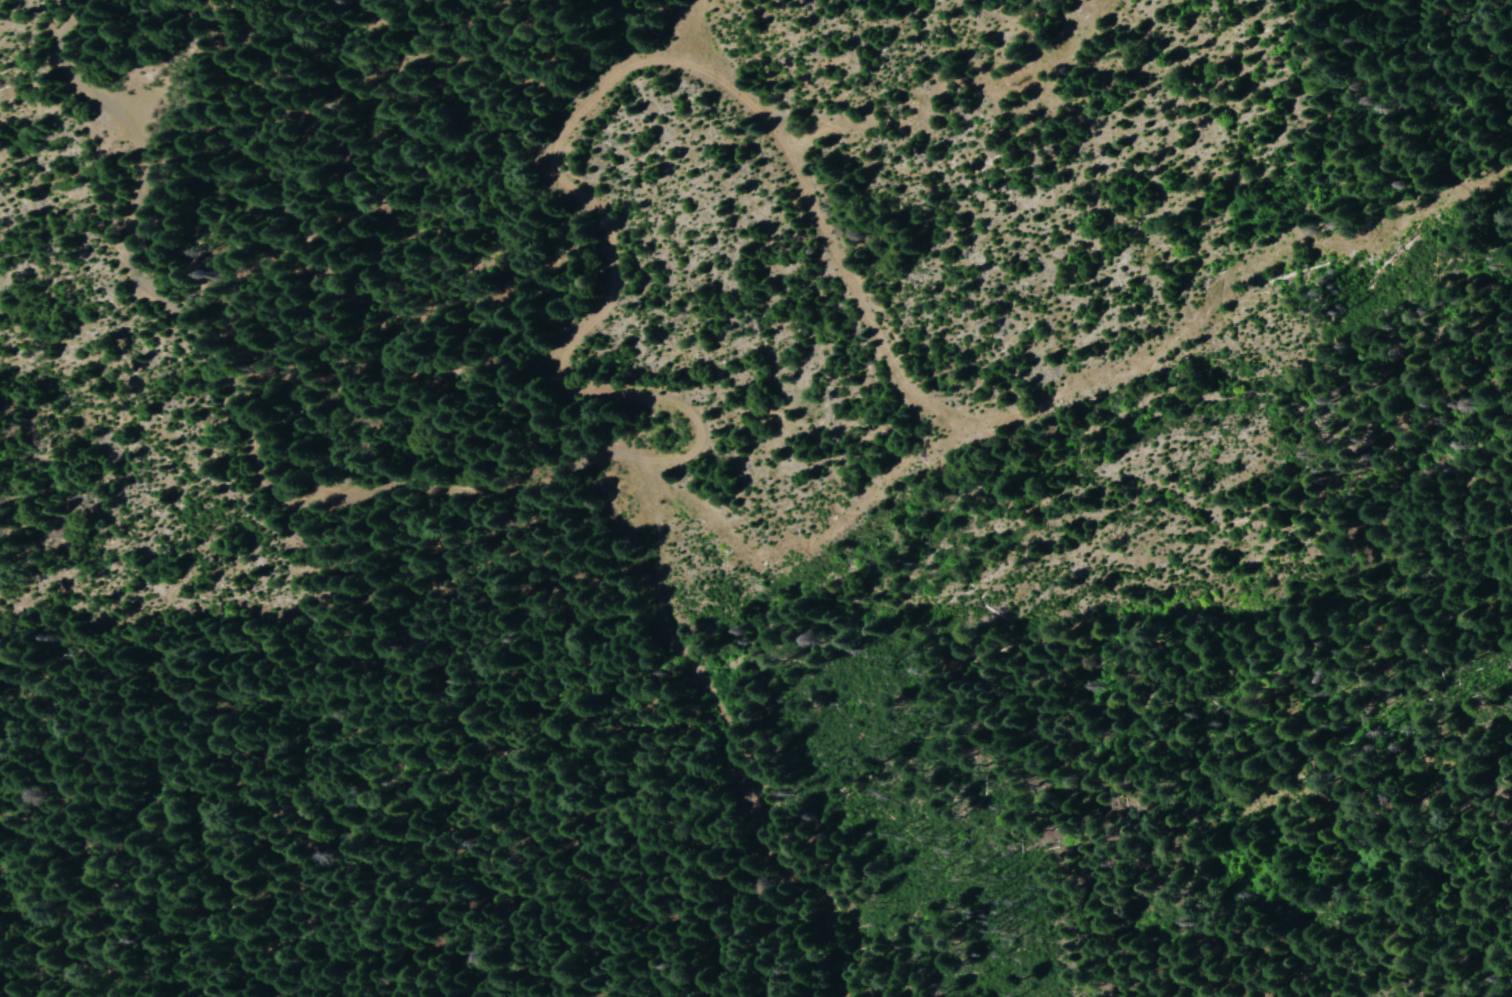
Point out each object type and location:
road: (450, 499)

